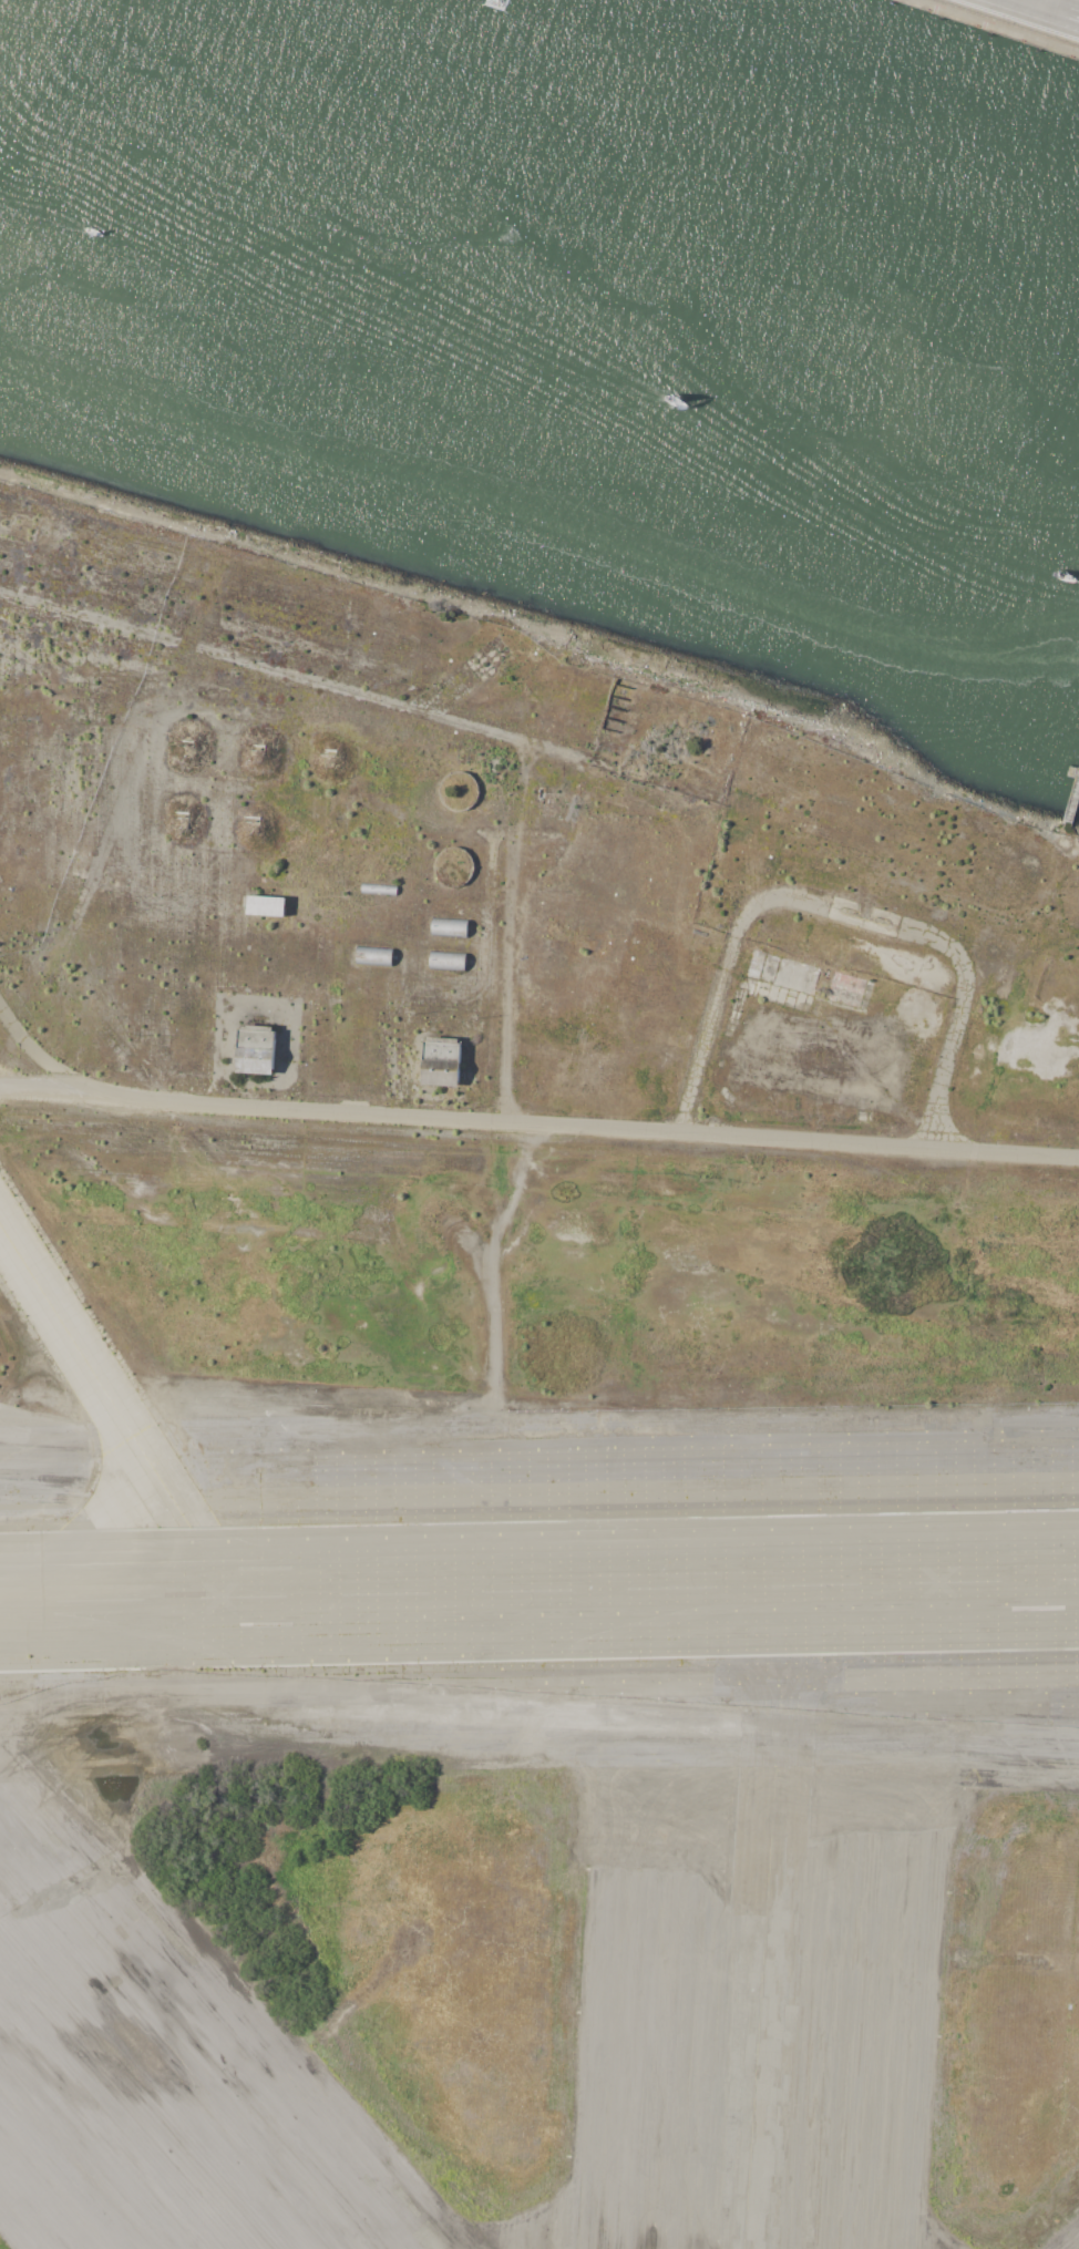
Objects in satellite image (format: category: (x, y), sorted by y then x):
river: (535, 284)
pier: (1067, 769)
pier: (1072, 804)
building: (265, 905)
building: (449, 927)
road: (500, 980)
building: (255, 1049)
building: (440, 1060)
road: (523, 1123)

